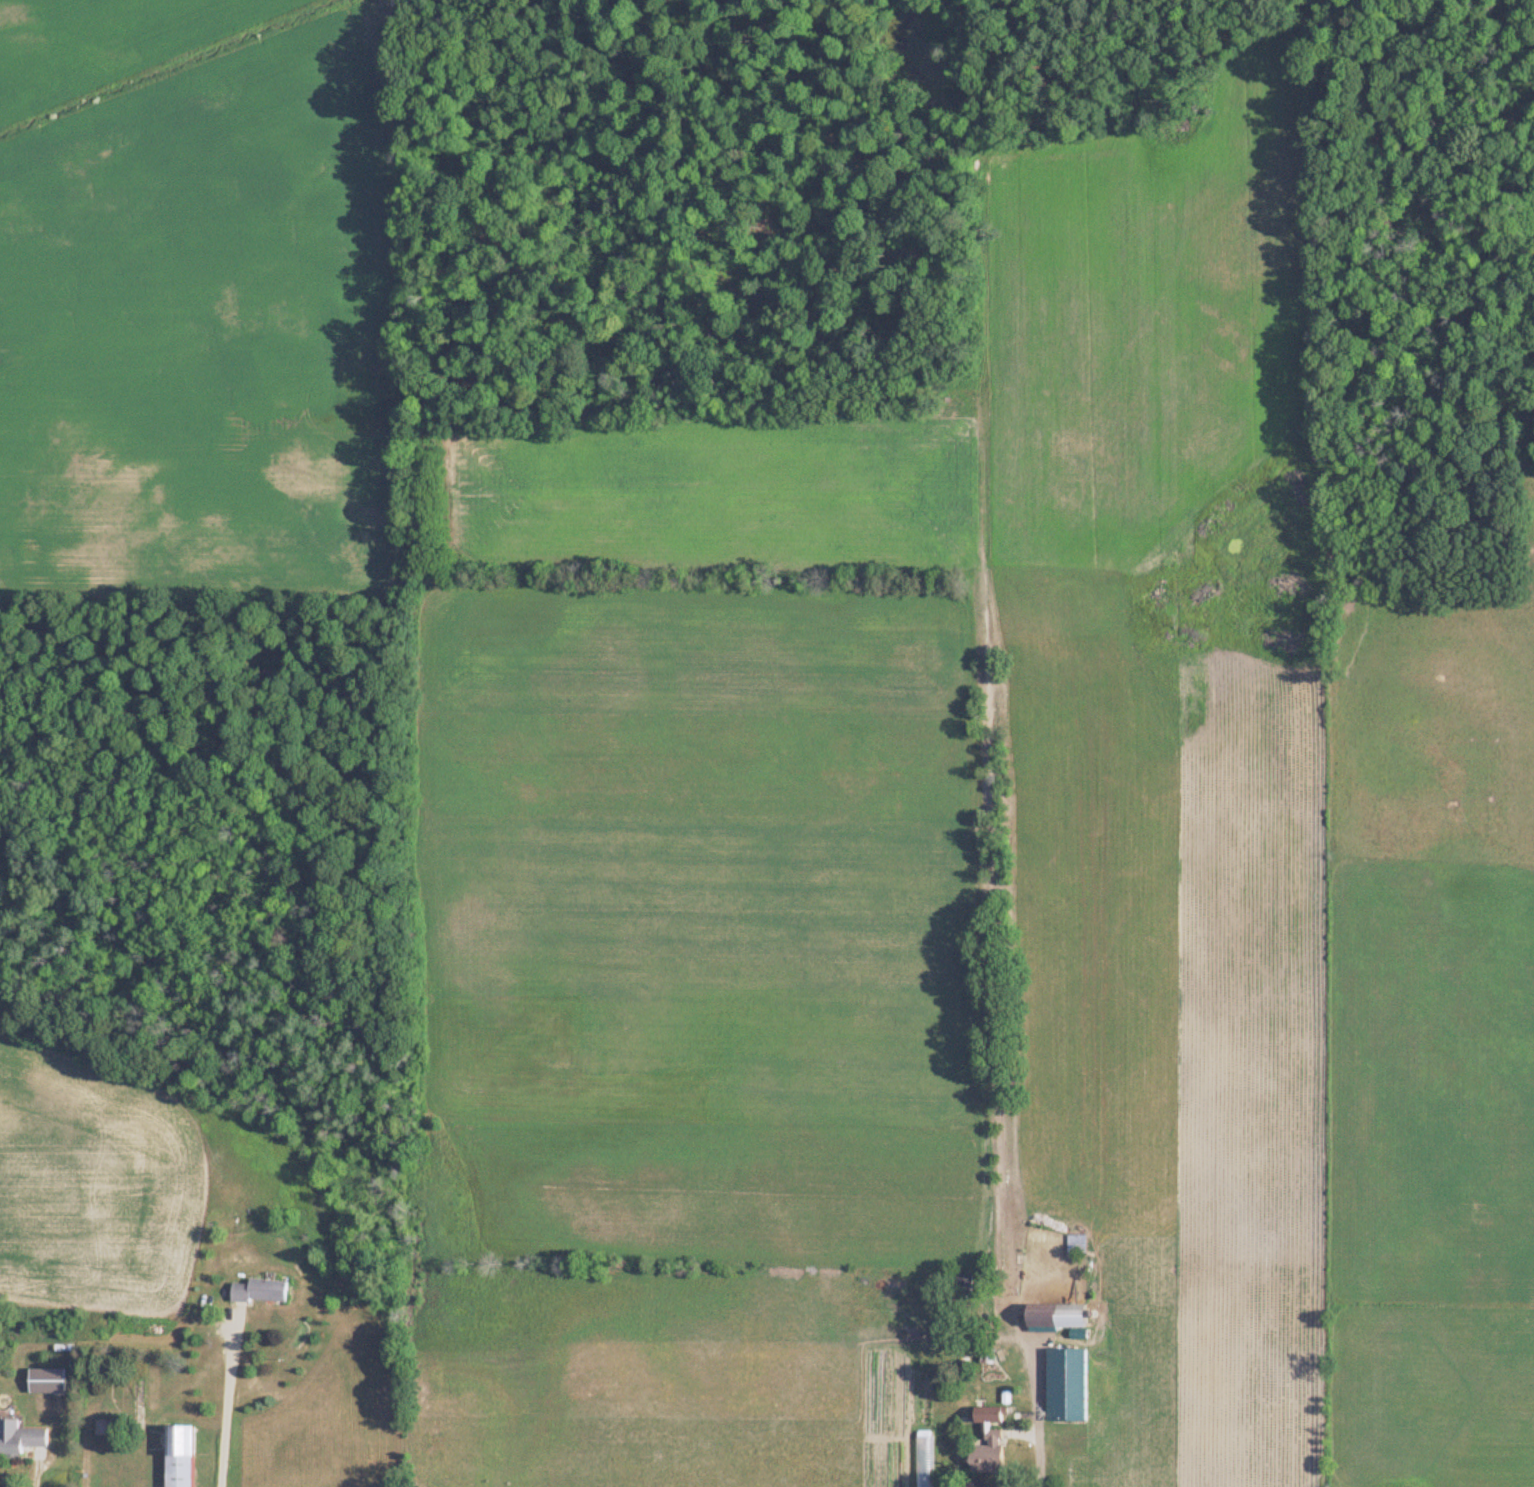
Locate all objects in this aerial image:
building: (1074, 1245)
building: (256, 1290)
building: (1052, 1316)
building: (1059, 1367)
building: (44, 1380)
building: (993, 1392)
road: (1037, 1398)
road: (223, 1399)
building: (20, 1438)
building: (985, 1453)
building: (176, 1456)

